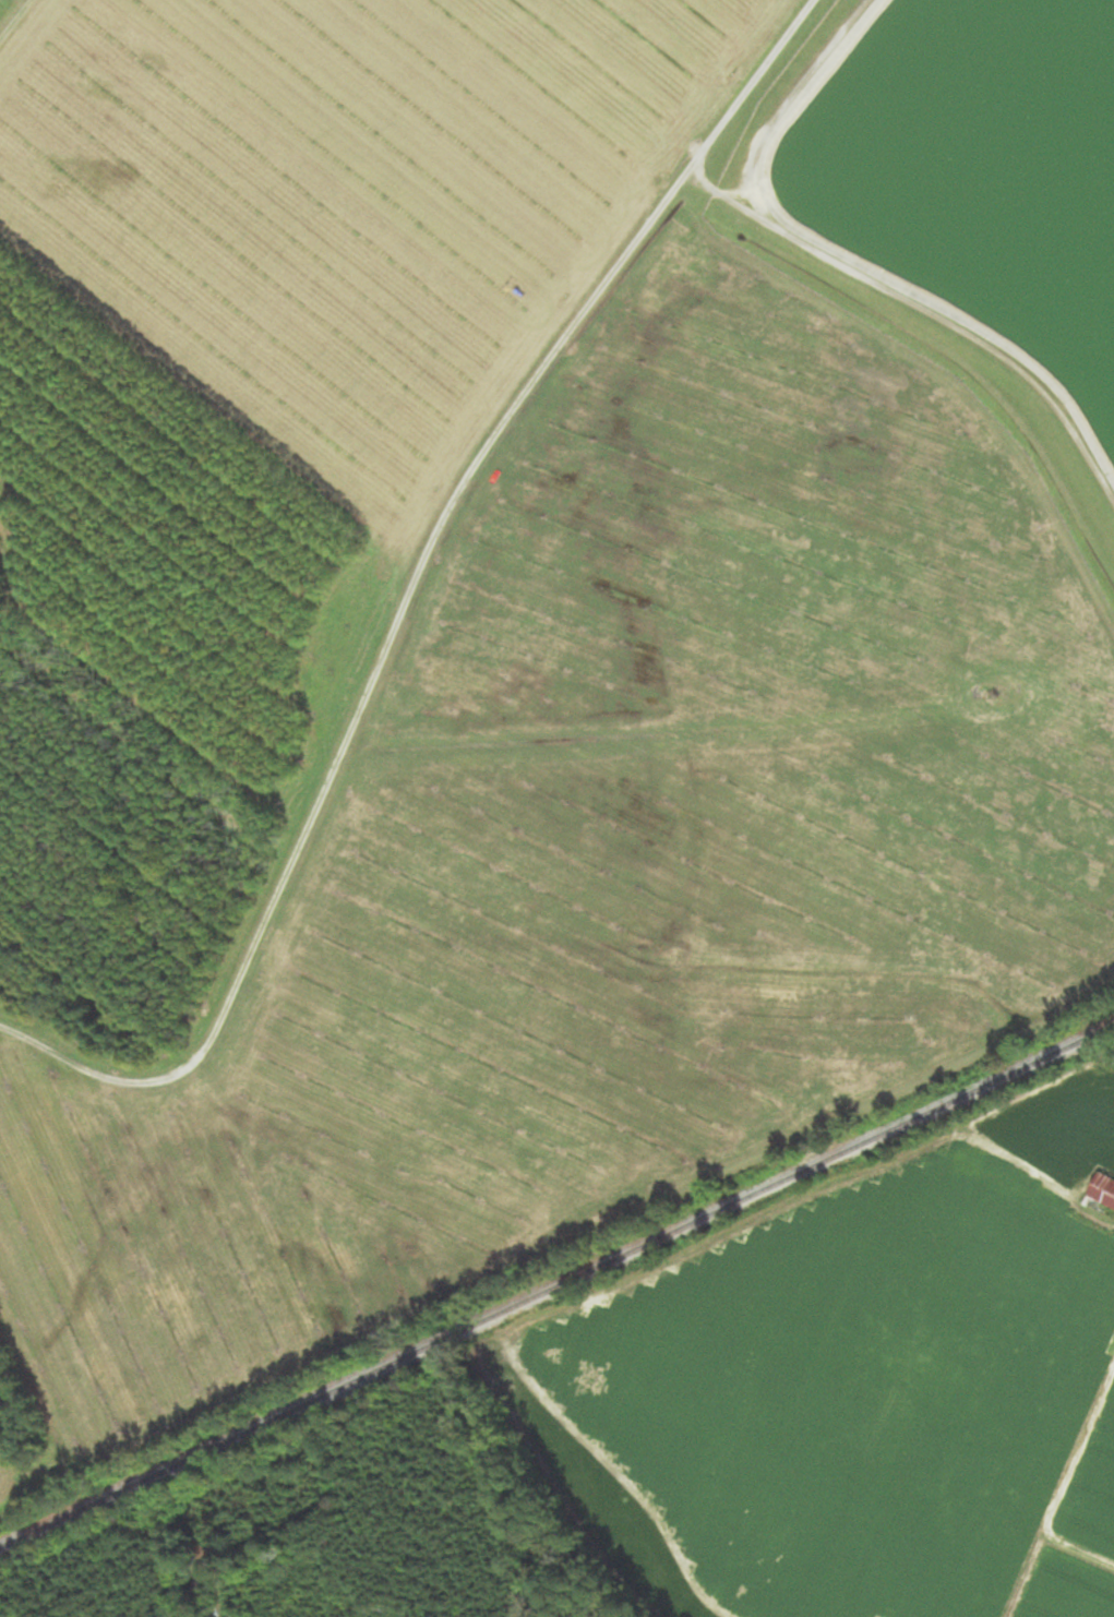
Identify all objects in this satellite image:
railway: (556, 1286)
building: (204, 1583)

